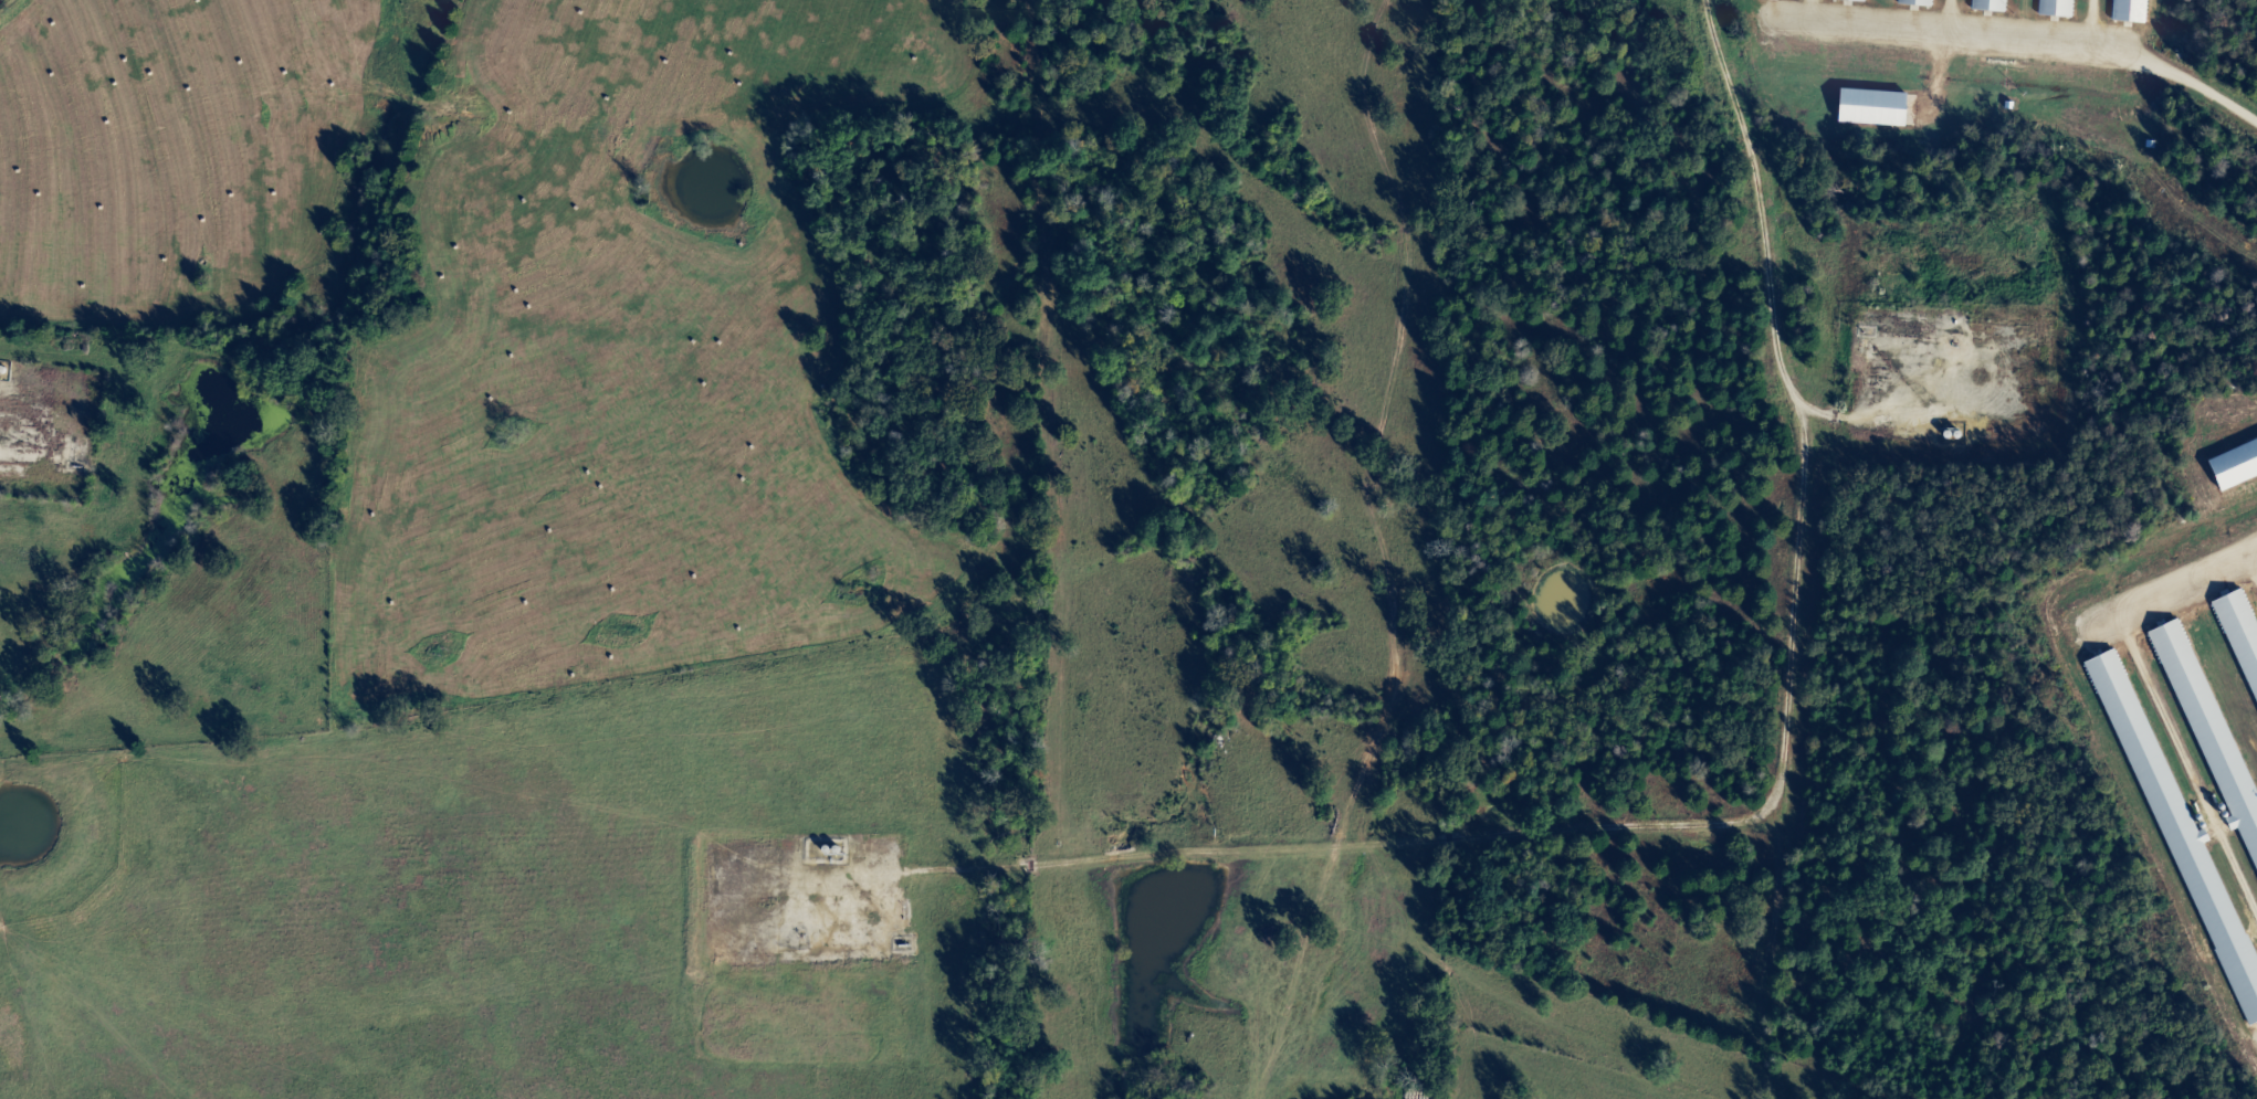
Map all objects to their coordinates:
building: (1856, 0)
building: (1920, 3)
building: (1991, 6)
building: (2060, 8)
building: (2133, 11)
building: (1873, 108)
building: (2236, 467)
road: (1689, 579)
building: (2244, 626)
building: (2211, 727)
building: (2185, 844)

